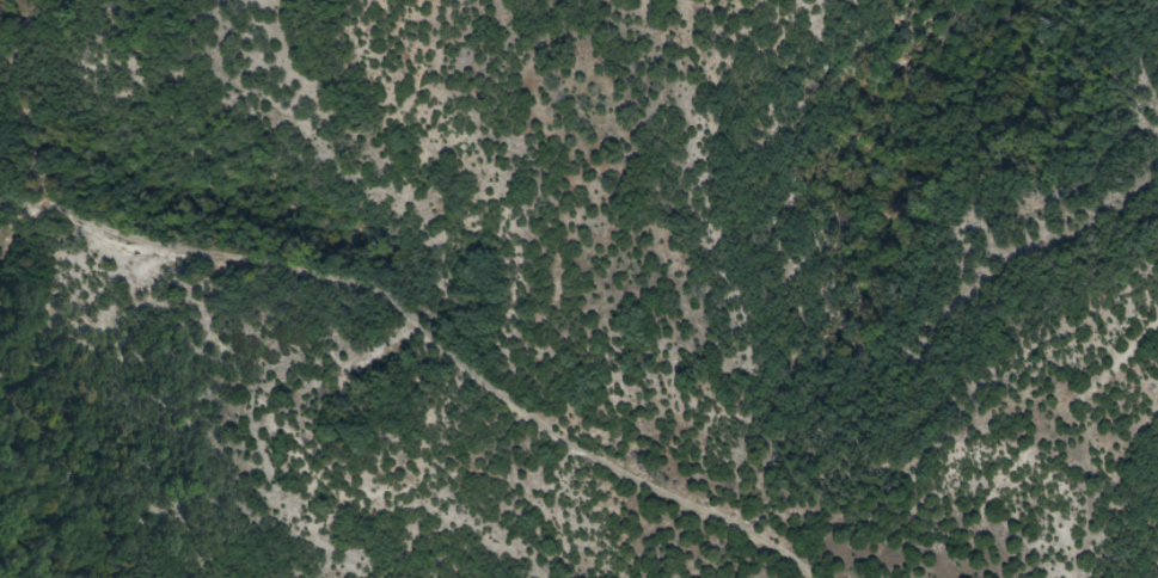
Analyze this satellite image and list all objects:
road: (544, 375)

